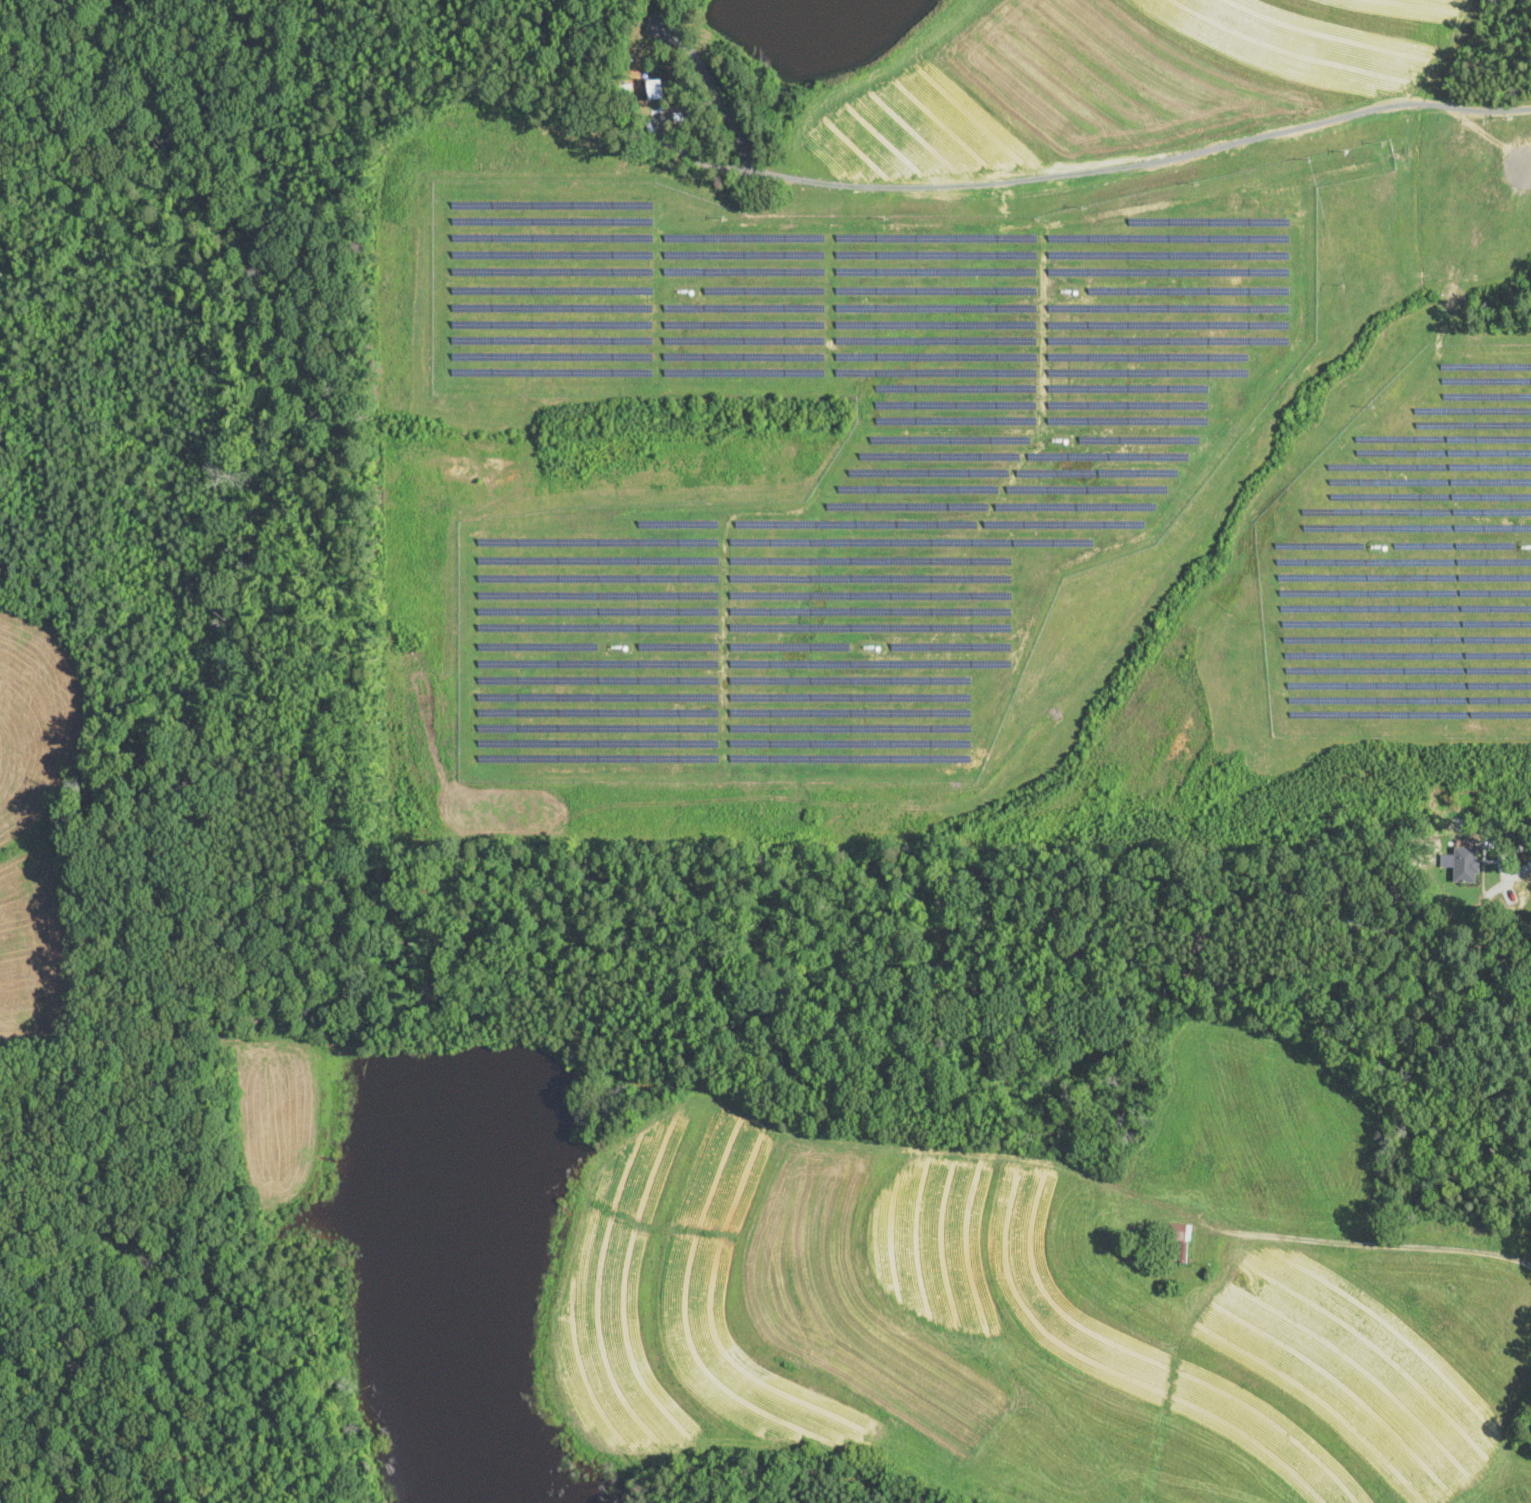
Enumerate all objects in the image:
solar farm: (845, 460)
solar farm: (1409, 566)
building: (1466, 864)

